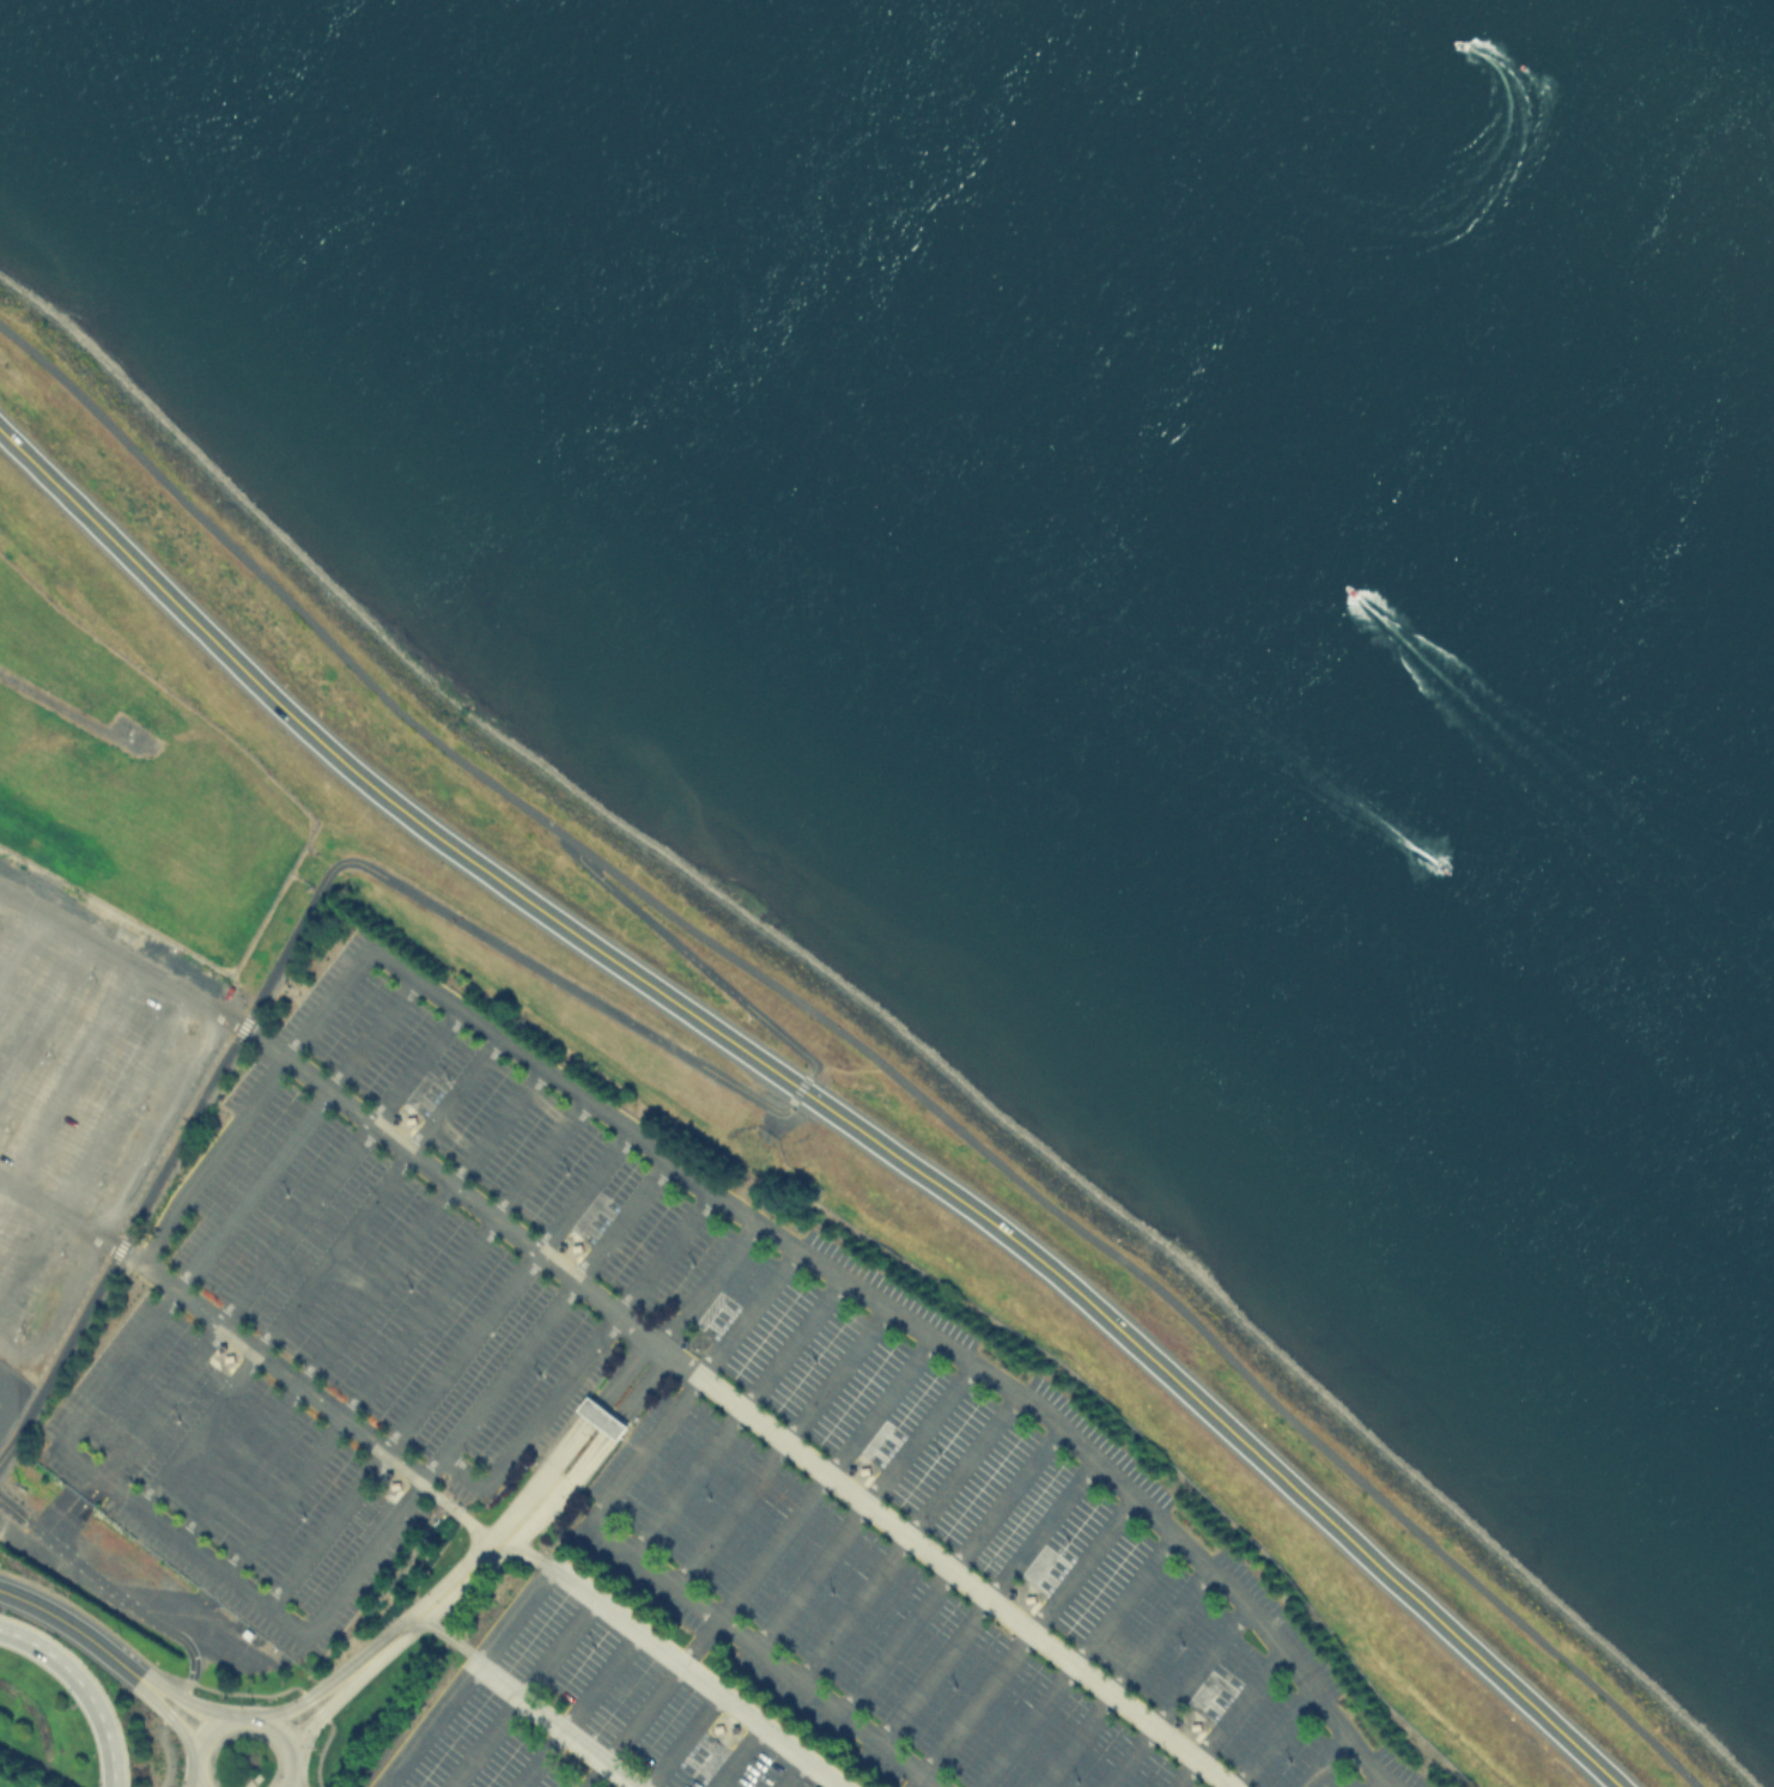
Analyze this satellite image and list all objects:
road: (65, 706)
building: (123, 931)
road: (294, 934)
airport: (111, 946)
road: (697, 962)
road: (144, 971)
road: (411, 974)
road: (858, 1041)
road: (271, 1075)
building: (830, 1078)
road: (800, 1092)
parking lot: (84, 1095)
road: (815, 1099)
road: (344, 1105)
building: (408, 1119)
road: (469, 1201)
road: (72, 1221)
road: (159, 1235)
road: (275, 1245)
building: (573, 1246)
road: (311, 1272)
road: (707, 1285)
road: (356, 1305)
road: (616, 1313)
road: (747, 1314)
road: (545, 1323)
road: (400, 1337)
road: (955, 1355)
building: (226, 1356)
road: (579, 1363)
road: (443, 1370)
road: (281, 1374)
road: (730, 1414)
road: (84, 1416)
road: (587, 1418)
building: (597, 1421)
road: (607, 1434)
parking lot: (658, 1441)
road: (776, 1446)
road: (628, 1469)
building: (863, 1469)
building: (393, 1484)
road: (862, 1507)
road: (457, 1516)
road: (904, 1537)
road: (523, 1555)
road: (755, 1562)
road: (648, 1568)
road: (947, 1572)
road: (965, 1580)
road: (452, 1584)
road: (114, 1593)
building: (1029, 1597)
road: (982, 1601)
road: (72, 1627)
building: (250, 1634)
road: (448, 1636)
road: (1023, 1636)
road: (1075, 1660)
road: (464, 1676)
road: (693, 1676)
road: (1120, 1677)
road: (792, 1679)
road: (84, 1688)
road: (318, 1691)
road: (521, 1692)
road: (1174, 1697)
road: (182, 1700)
road: (329, 1704)
road: (315, 1707)
road: (578, 1709)
road: (168, 1713)
road: (244, 1716)
road: (1226, 1718)
road: (553, 1725)
building: (716, 1726)
building: (1195, 1726)
road: (1270, 1737)
road: (680, 1740)
road: (168, 1749)
road: (735, 1756)
road: (1320, 1761)
road: (789, 1773)
road: (912, 1781)
road: (923, 1781)
road: (1371, 1782)
road: (195, 1786)

